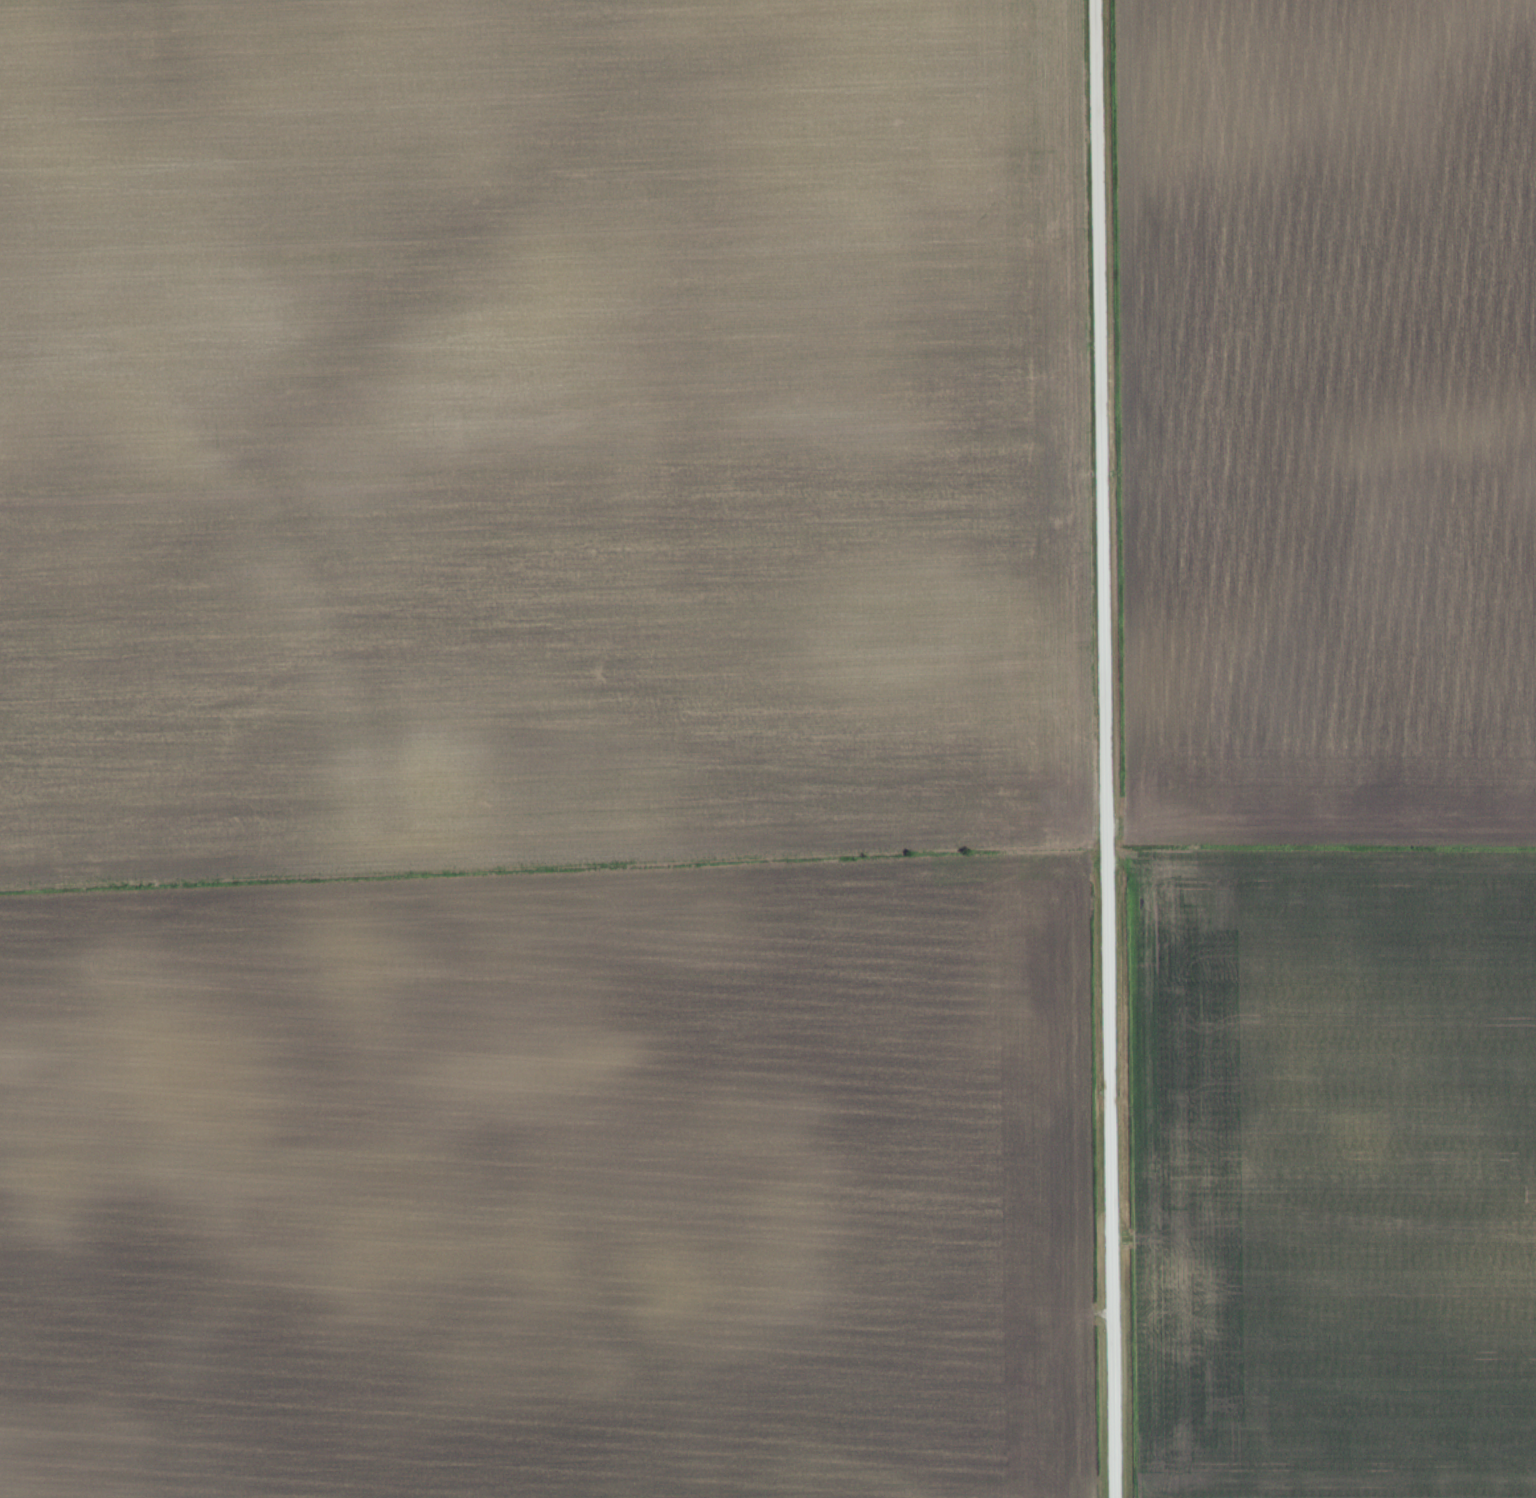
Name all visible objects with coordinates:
road: (1105, 748)

